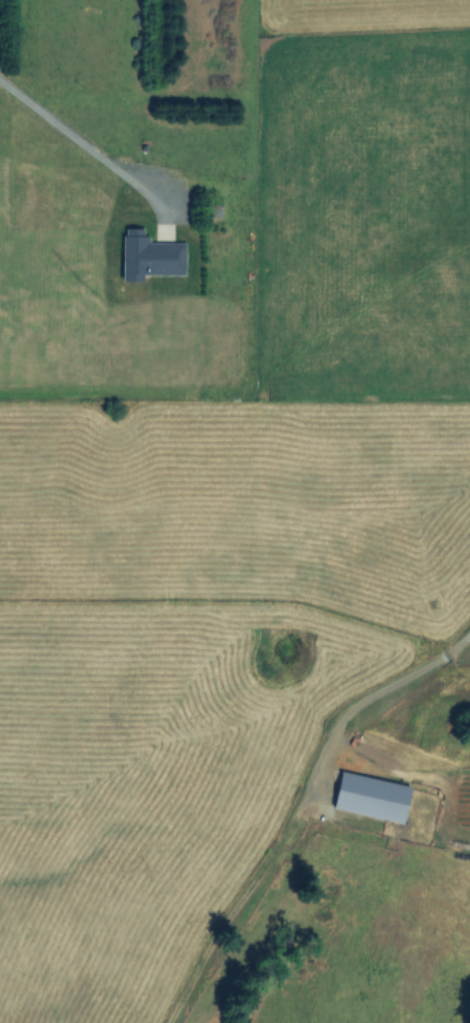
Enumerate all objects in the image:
road: (75, 137)
road: (346, 722)
building: (371, 793)

